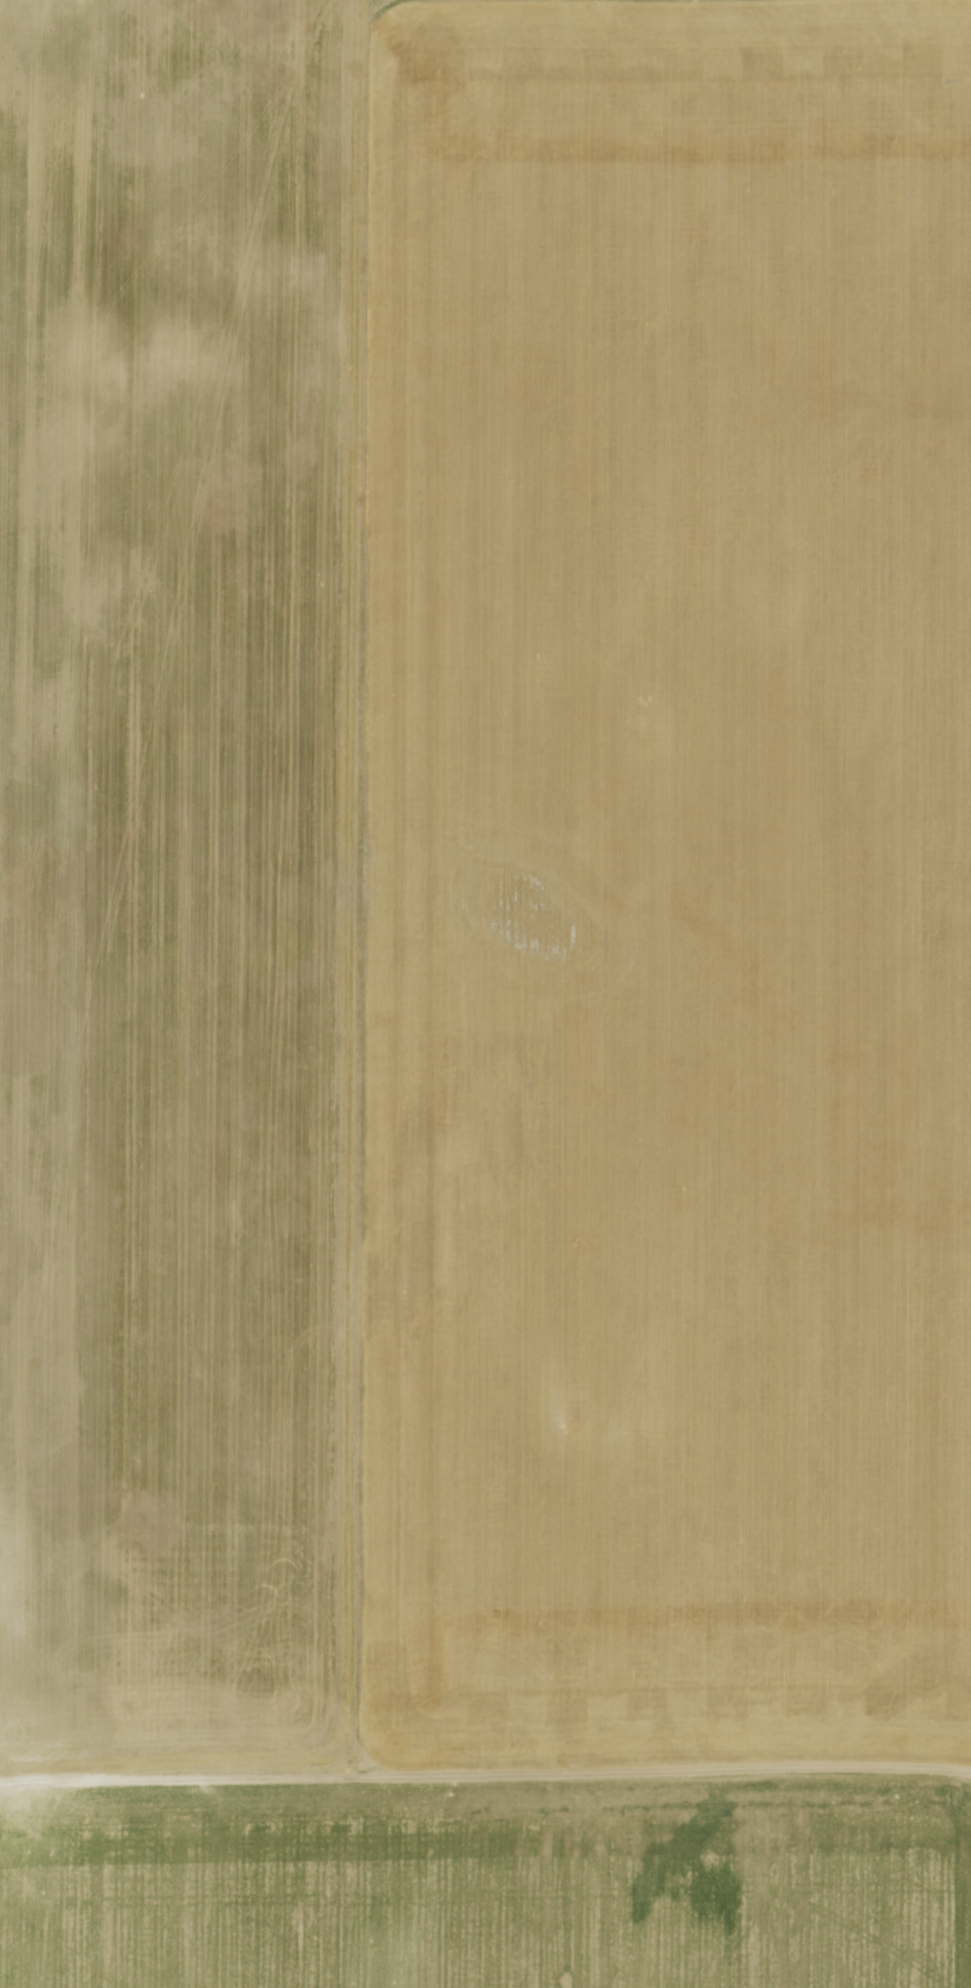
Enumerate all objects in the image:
road: (485, 1780)

